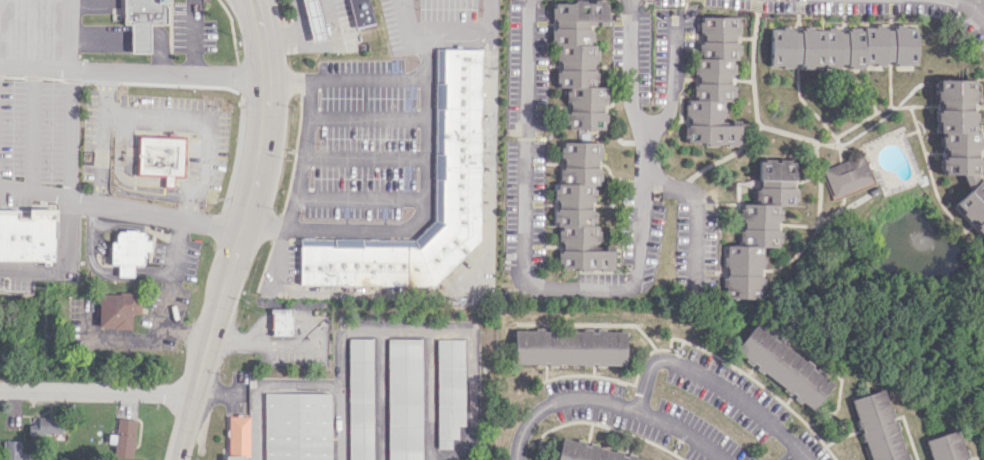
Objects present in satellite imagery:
road: (248, 5)
road: (259, 5)
road: (973, 5)
road: (86, 6)
parking lot: (99, 6)
road: (283, 11)
building: (145, 12)
building: (361, 13)
building: (315, 19)
road: (462, 26)
parking lot: (192, 27)
gas station: (336, 27)
road: (232, 29)
road: (34, 34)
road: (99, 38)
building: (139, 38)
road: (139, 38)
road: (192, 40)
road: (319, 45)
building: (841, 46)
road: (160, 52)
building: (578, 61)
road: (34, 75)
road: (165, 75)
road: (369, 79)
road: (673, 83)
building: (713, 83)
road: (67, 99)
parking lot: (27, 103)
road: (33, 118)
road: (207, 118)
road: (367, 118)
building: (959, 126)
road: (307, 130)
parking lot: (374, 131)
road: (644, 134)
building: (459, 135)
road: (101, 137)
parking lot: (208, 141)
building: (160, 155)
road: (258, 155)
road: (33, 160)
road: (366, 160)
building: (777, 172)
building: (847, 175)
road: (138, 181)
building: (168, 181)
road: (168, 181)
road: (121, 182)
road: (178, 187)
road: (361, 198)
road: (523, 198)
road: (427, 201)
building: (973, 205)
building: (579, 207)
road: (696, 208)
road: (153, 213)
road: (65, 233)
building: (25, 237)
building: (755, 239)
building: (127, 247)
parking lot: (137, 249)
road: (171, 273)
building: (118, 308)
building: (281, 321)
road: (412, 329)
road: (149, 335)
road: (266, 342)
building: (571, 347)
road: (204, 350)
building: (785, 366)
road: (716, 382)
road: (262, 384)
building: (449, 390)
road: (96, 391)
building: (360, 399)
building: (404, 399)
road: (609, 402)
building: (45, 424)
road: (184, 426)
building: (297, 426)
building: (880, 426)
road: (255, 429)
building: (237, 437)
building: (123, 438)
building: (949, 446)
building: (12, 450)
building: (590, 452)

